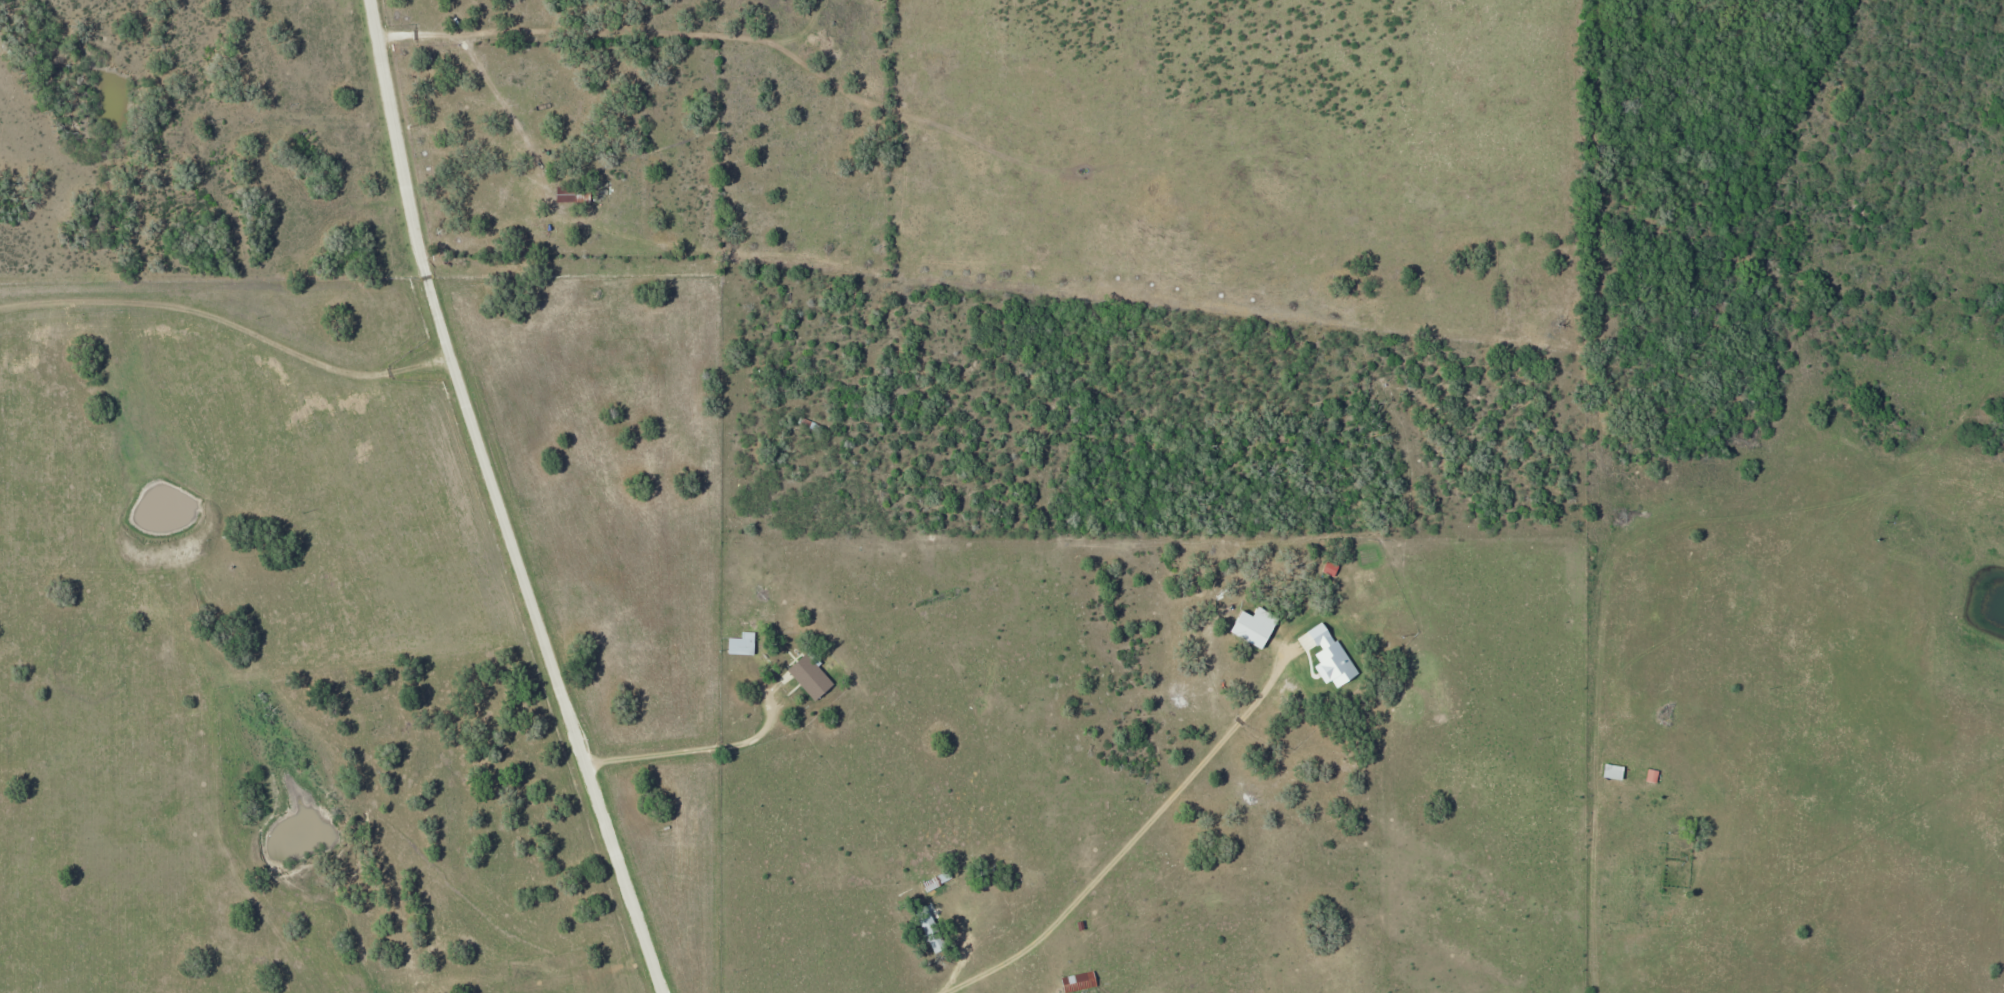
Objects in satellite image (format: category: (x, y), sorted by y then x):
road: (643, 26)
building: (565, 193)
road: (505, 501)
building: (1370, 583)
building: (1251, 621)
building: (742, 638)
building: (810, 671)
building: (1613, 766)
building: (1651, 771)
road: (1162, 801)
building: (941, 878)
building: (932, 932)
building: (1080, 981)

